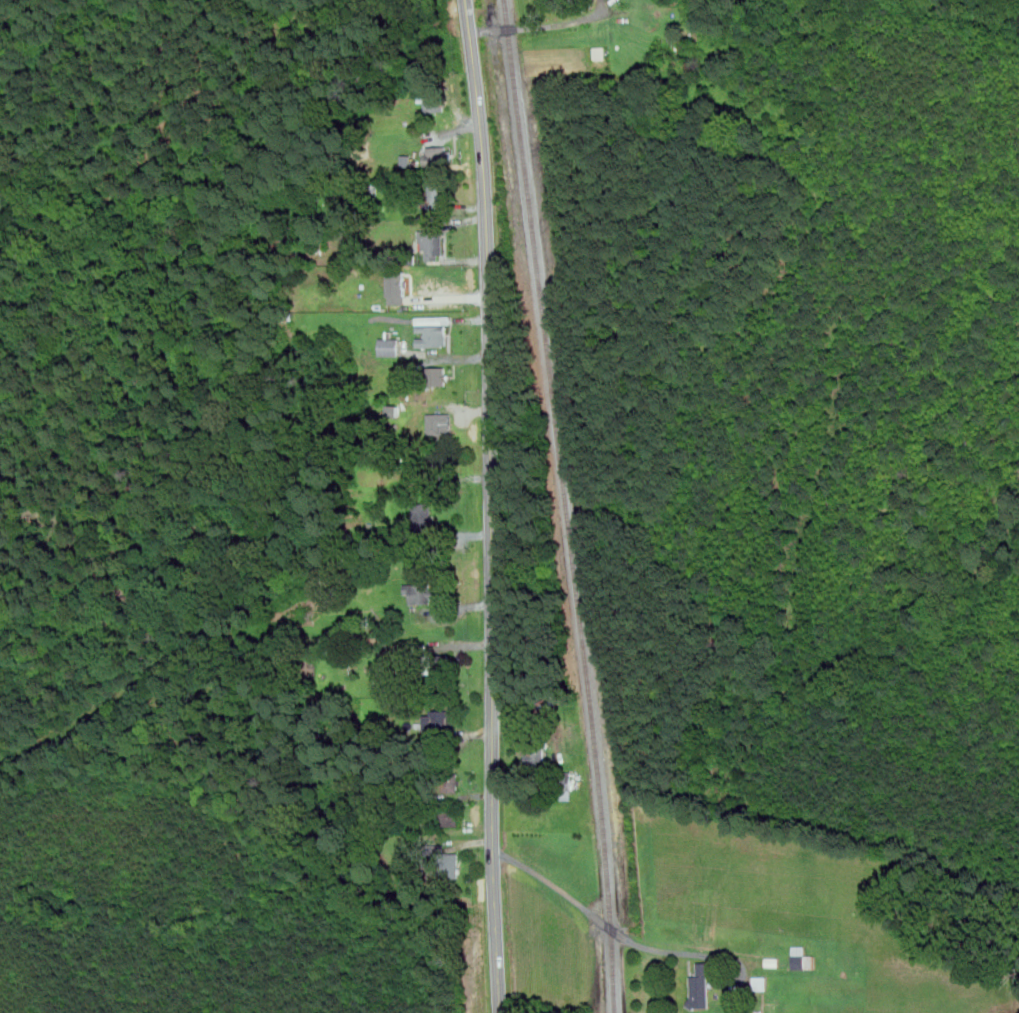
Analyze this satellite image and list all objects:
road: (538, 27)
building: (435, 101)
building: (438, 155)
building: (436, 194)
building: (432, 244)
building: (397, 287)
building: (433, 332)
building: (390, 347)
building: (437, 375)
building: (439, 422)
building: (438, 467)
road: (491, 505)
railway: (569, 505)
building: (424, 516)
building: (421, 593)
building: (435, 667)
building: (440, 720)
building: (535, 755)
building: (450, 782)
building: (567, 782)
building: (448, 816)
building: (451, 865)
road: (640, 944)
building: (802, 959)
building: (772, 962)
building: (760, 983)
building: (700, 987)

